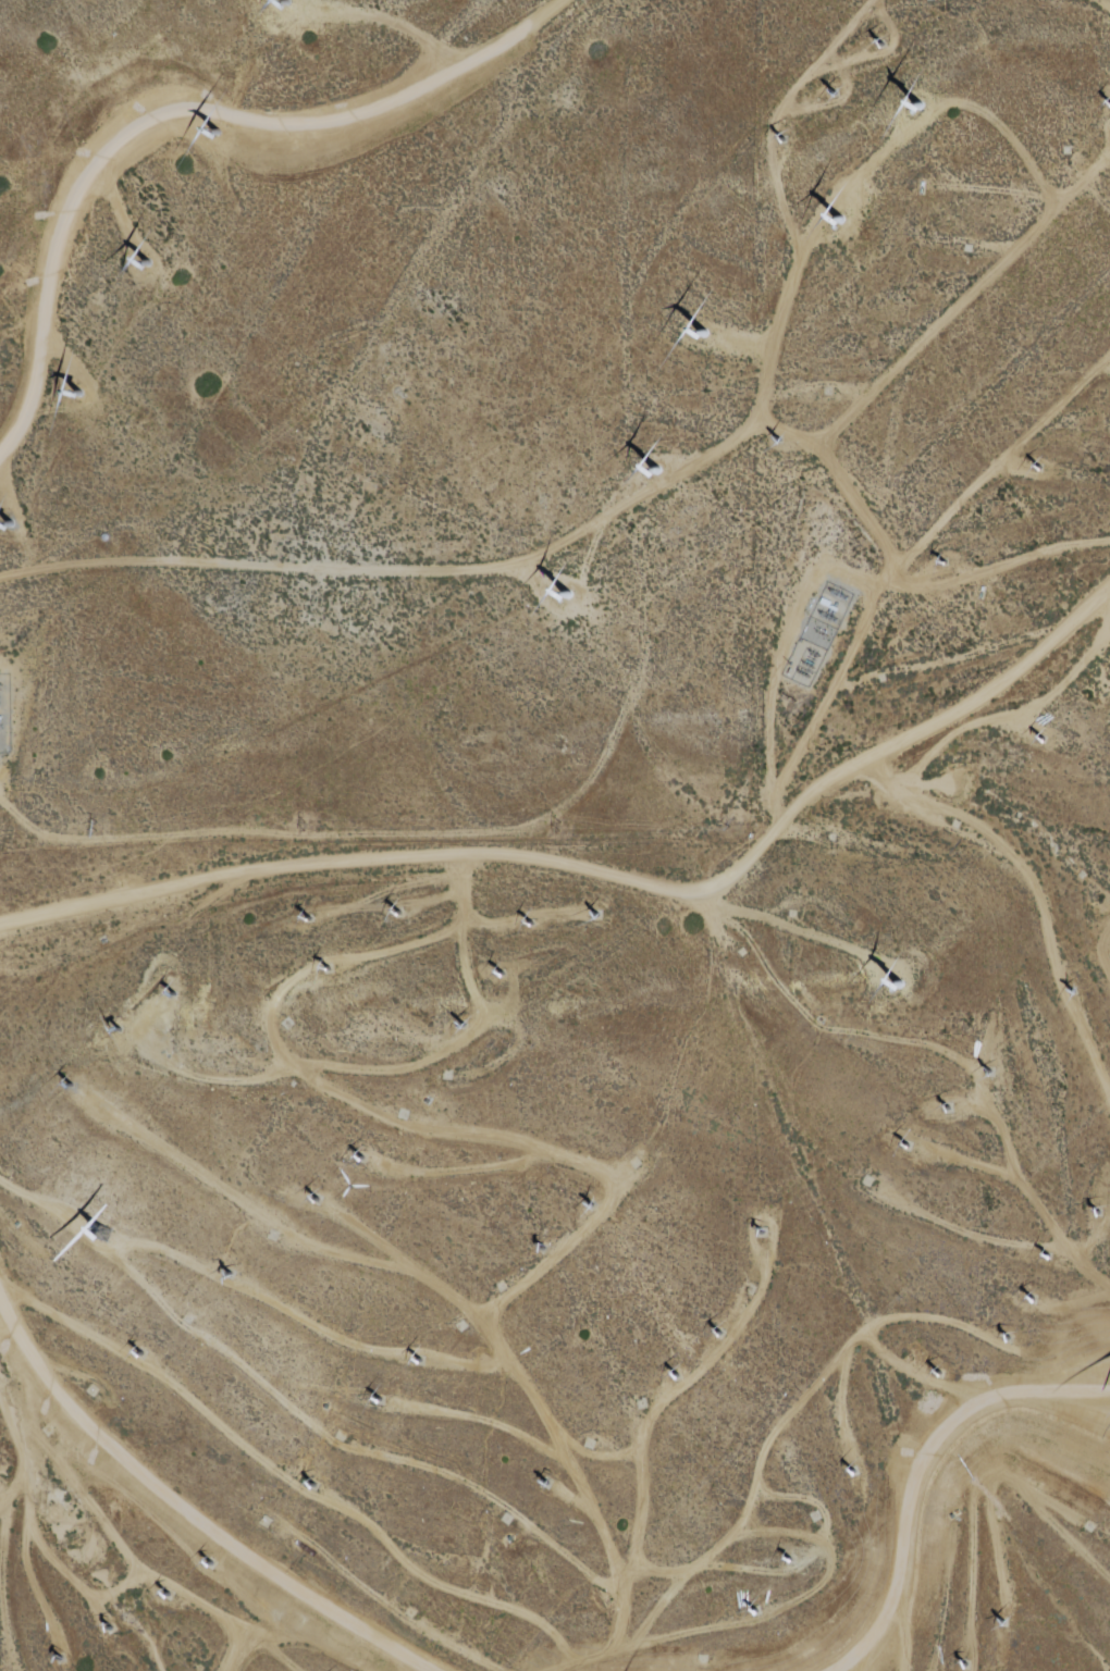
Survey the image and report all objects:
wind turbine: (284, 2)
road: (396, 23)
wind turbine: (884, 42)
wind turbine: (837, 90)
wind turbine: (927, 107)
road: (184, 110)
wind turbine: (207, 135)
wind turbine: (786, 137)
wind turbine: (837, 215)
wind turbine: (143, 262)
wind turbine: (695, 341)
wind turbine: (79, 394)
wind turbine: (775, 442)
wind turbine: (1038, 467)
wind turbine: (656, 469)
wind turbine: (11, 519)
wind turbine: (940, 562)
wind turbine: (568, 594)
power substation: (834, 606)
power substation: (805, 664)
wind turbine: (880, 680)
power substation: (5, 715)
wind turbine: (1041, 740)
wind turbine: (405, 914)
wind turbine: (600, 915)
wind turbine: (304, 919)
wind turbine: (531, 926)
wind turbine: (326, 971)
wind turbine: (505, 976)
wind turbine: (900, 985)
wind turbine: (1072, 991)
wind turbine: (171, 994)
wind turbine: (465, 1023)
wind turbine: (107, 1031)
wind turbine: (989, 1072)
wind turbine: (69, 1079)
wind turbine: (948, 1109)
wind turbine: (910, 1153)
wind turbine: (361, 1161)
wind turbine: (318, 1200)
wind turbine: (590, 1212)
wind turbine: (1099, 1212)
wind turbine: (765, 1236)
wind turbine: (100, 1239)
wind turbine: (545, 1254)
wind turbine: (1048, 1258)
wind turbine: (230, 1272)
wind turbine: (1035, 1301)
wind turbine: (720, 1335)
wind turbine: (1009, 1338)
wind turbine: (144, 1358)
wind turbine: (417, 1364)
wind turbine: (939, 1372)
wind turbine: (680, 1375)
wind turbine: (381, 1401)
wind turbine: (853, 1472)
wind turbine: (545, 1485)
wind turbine: (314, 1488)
wind turbine: (789, 1560)
wind turbine: (214, 1562)
wind turbine: (169, 1596)
wind turbine: (754, 1614)
wind turbine: (1004, 1621)
wind turbine: (113, 1627)
wind turbine: (372, 1650)
wind turbine: (59, 1659)
wind turbine: (963, 1666)

